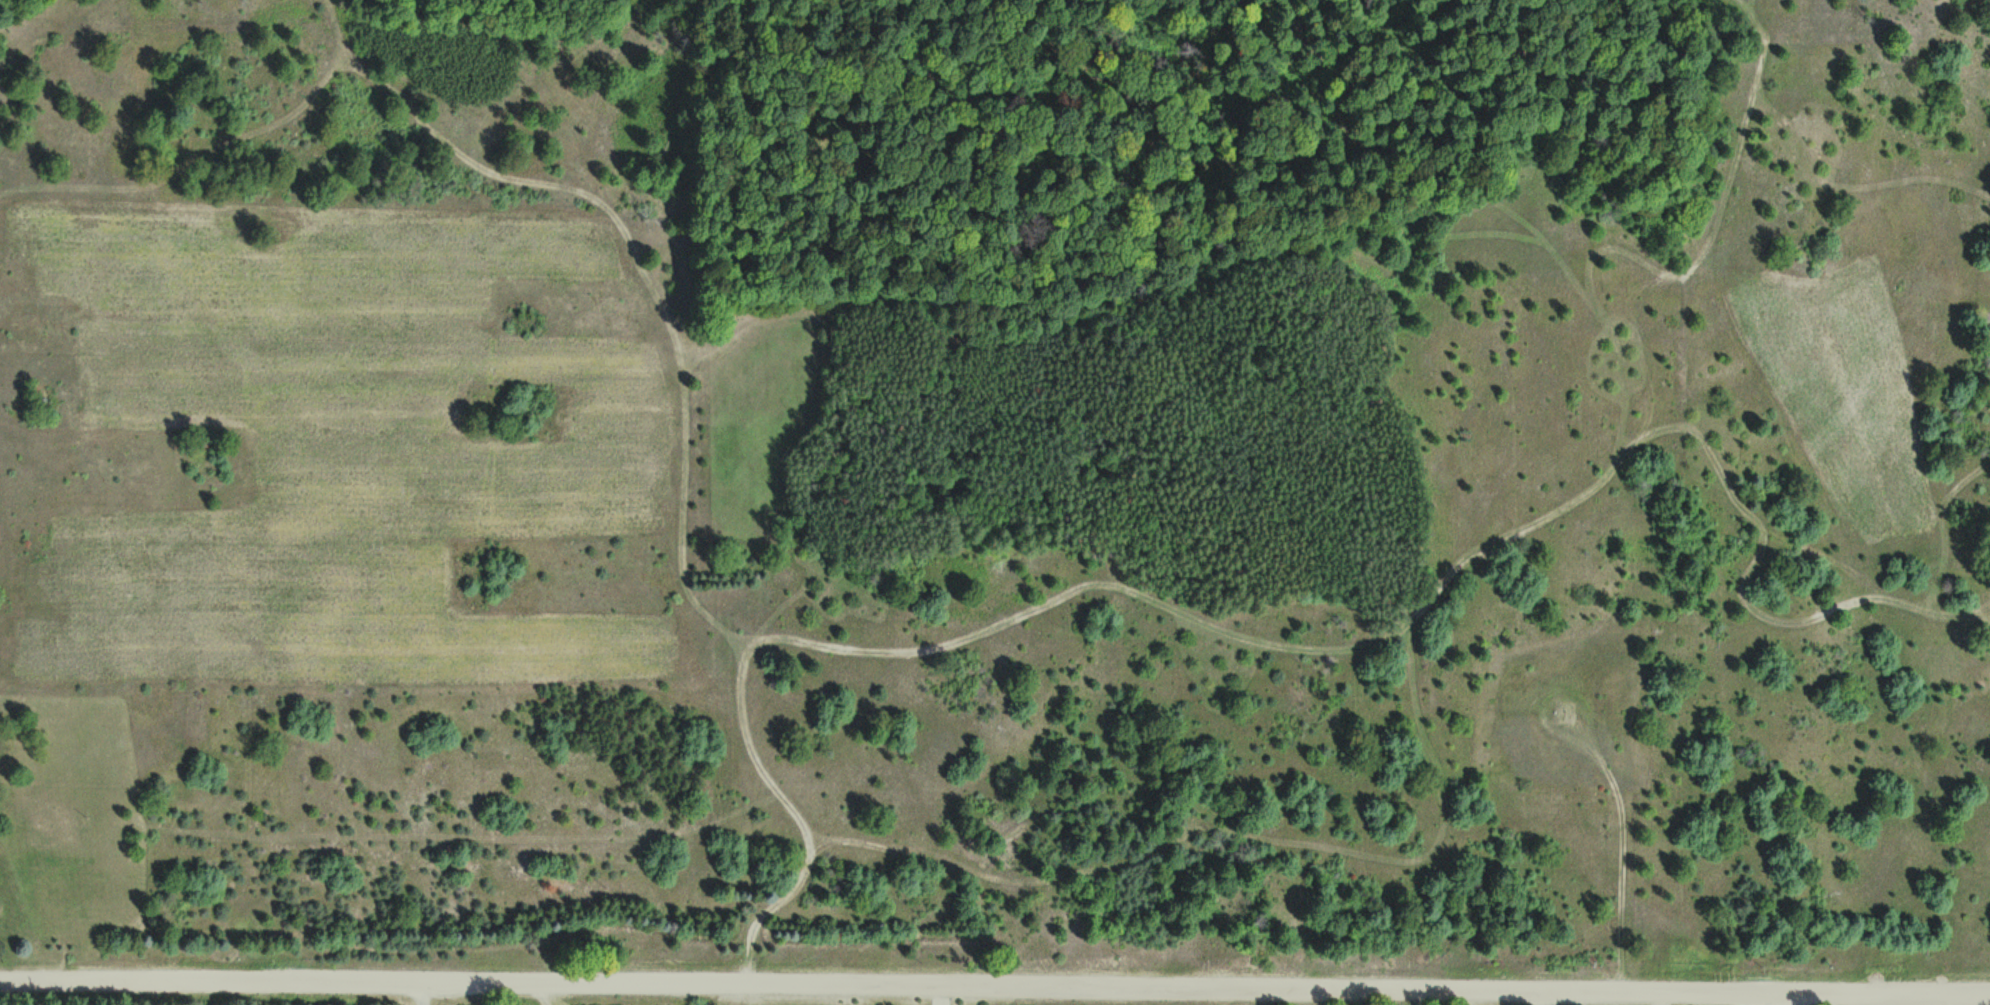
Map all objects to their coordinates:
road: (995, 981)

